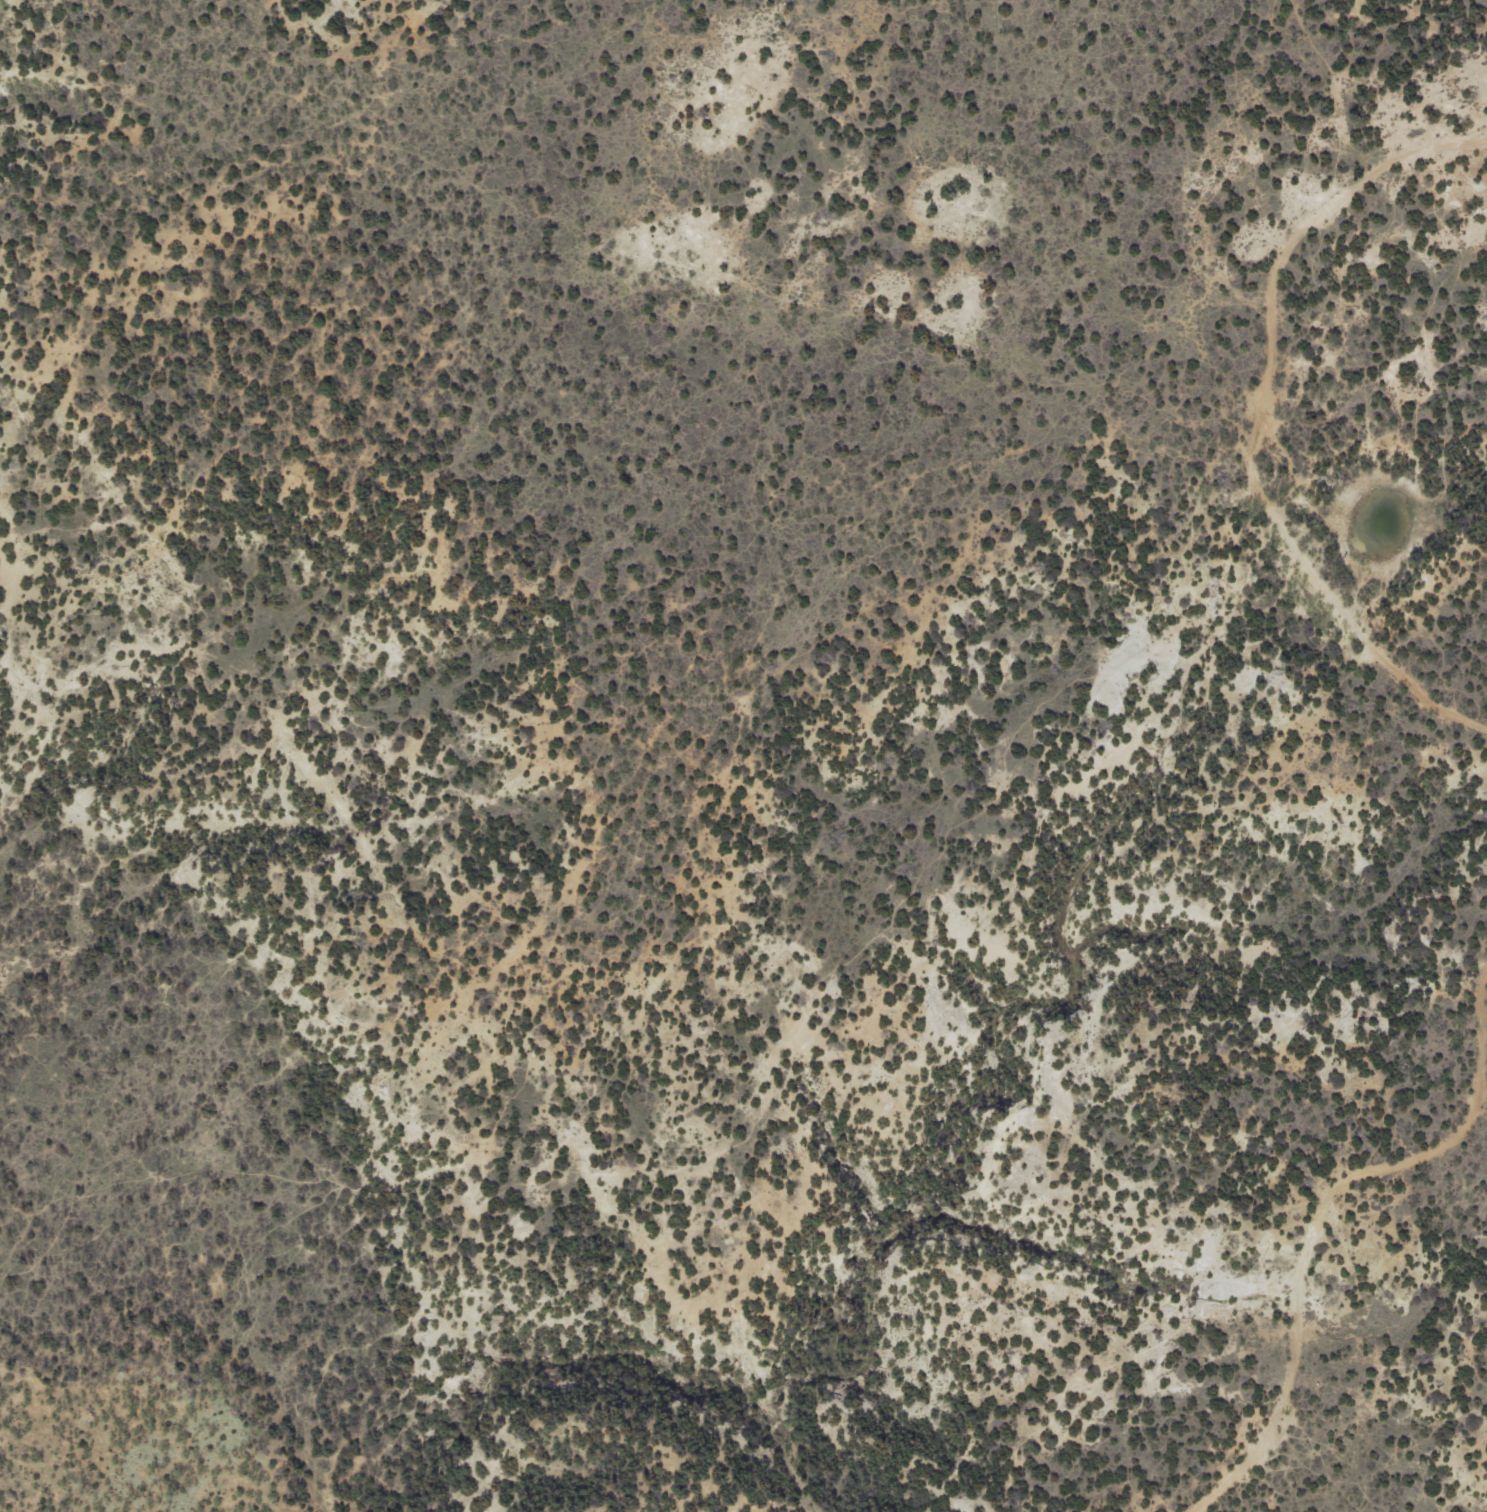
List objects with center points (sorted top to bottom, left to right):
road: (1427, 766)
road: (548, 811)

